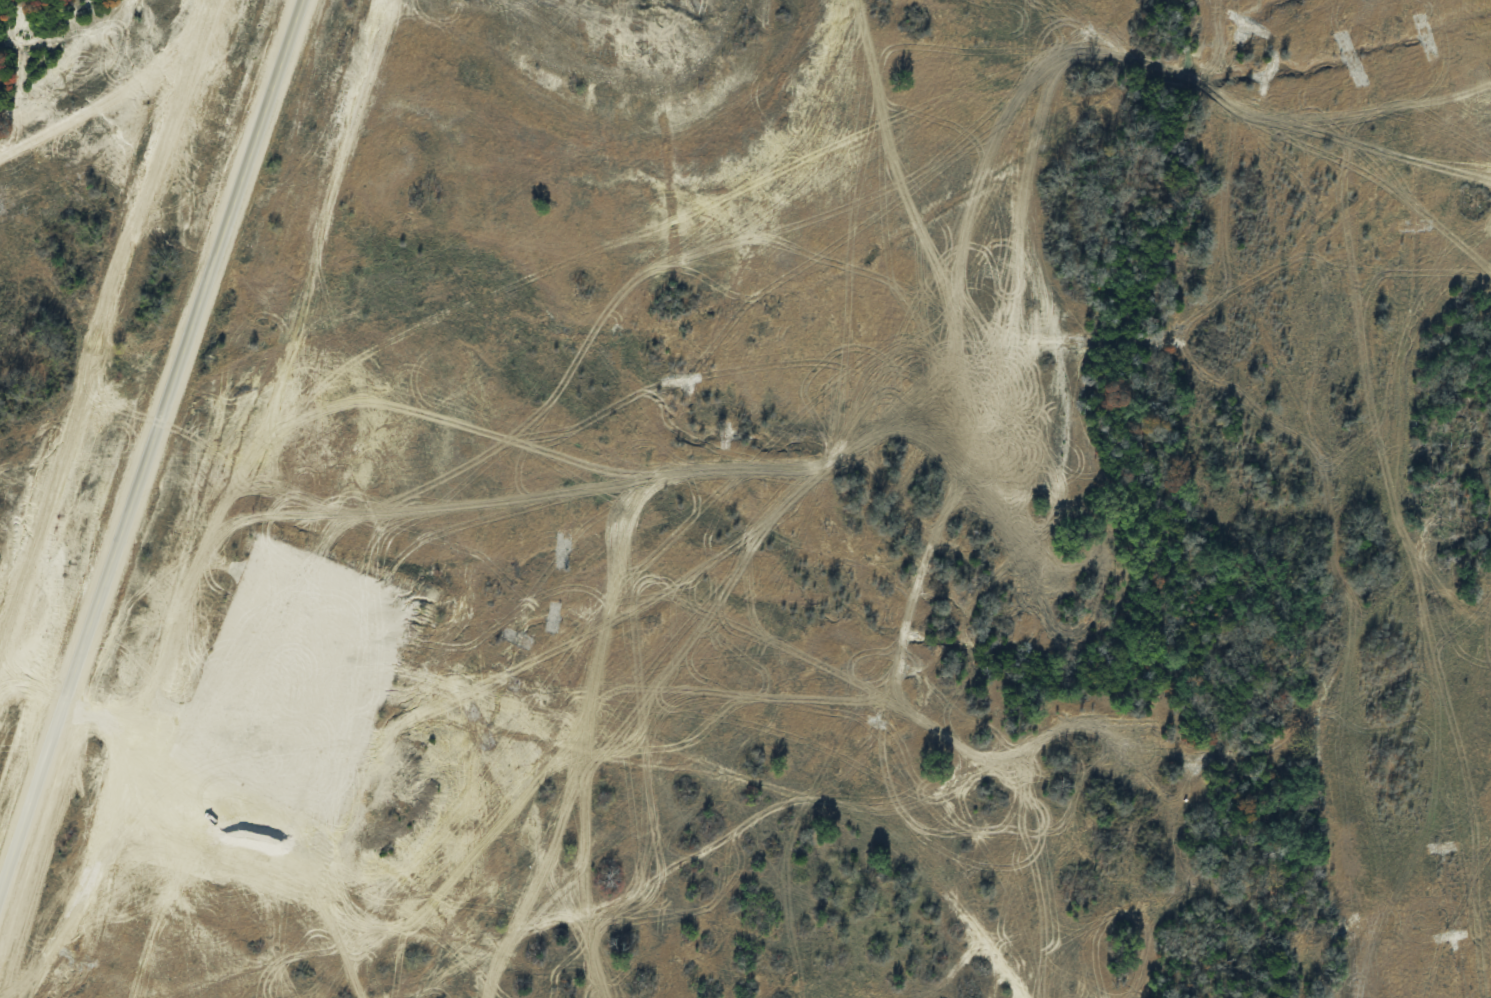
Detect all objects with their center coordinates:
road: (102, 318)
road: (150, 446)

